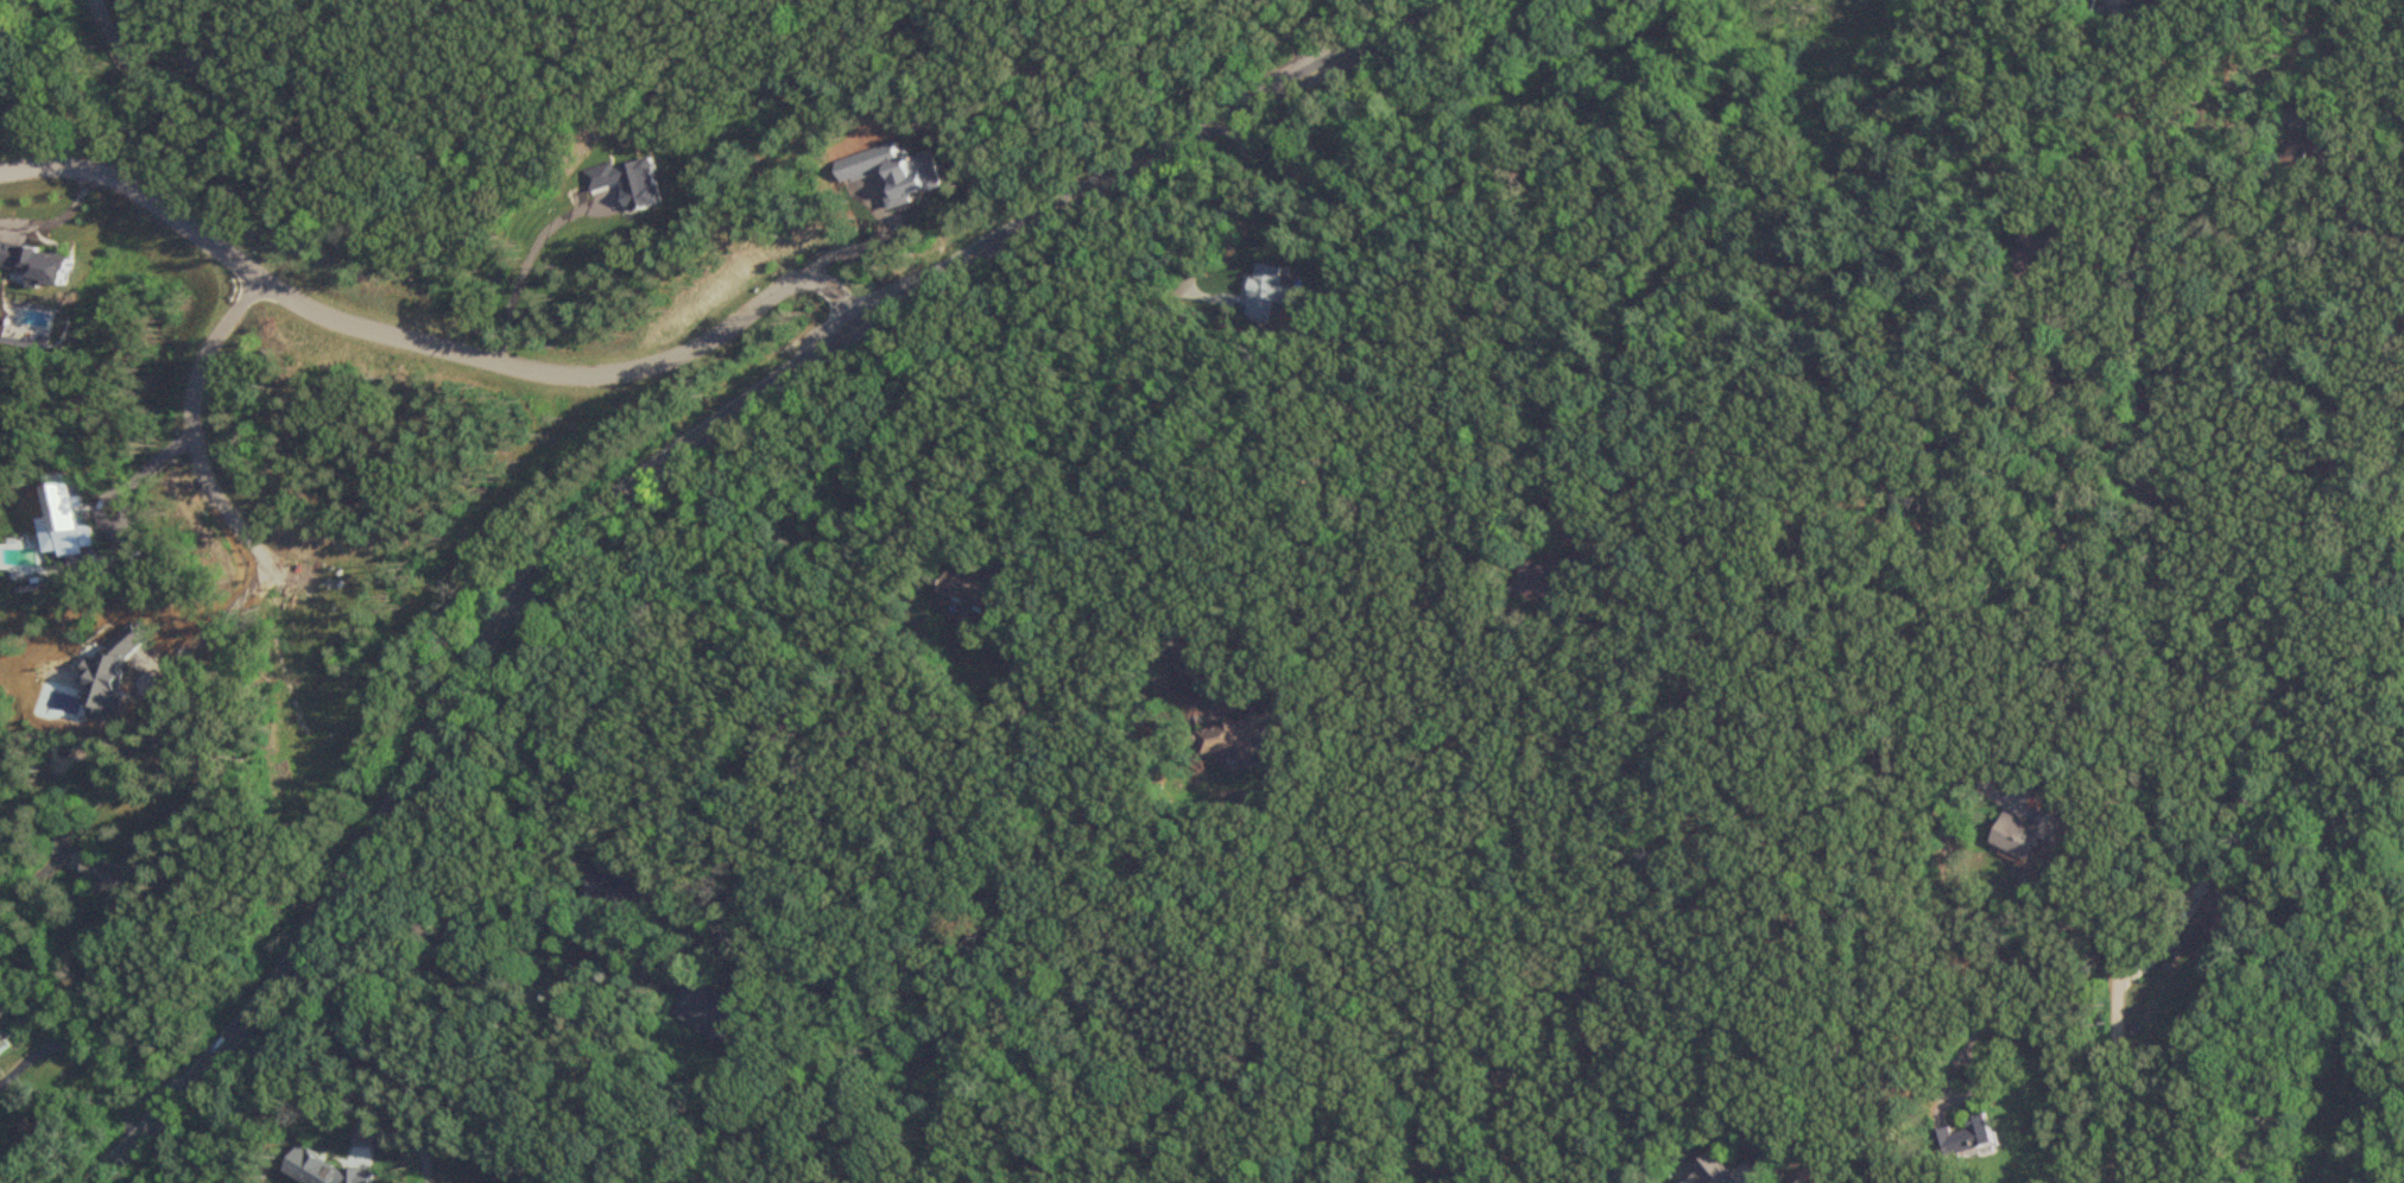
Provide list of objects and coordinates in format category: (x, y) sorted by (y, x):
building: (2127, 11)
road: (1346, 27)
road: (1304, 38)
road: (152, 95)
road: (2169, 121)
building: (2305, 144)
road: (55, 215)
building: (2037, 247)
road: (525, 257)
road: (430, 346)
road: (1099, 388)
road: (184, 431)
road: (720, 457)
road: (660, 463)
road: (110, 493)
building: (1552, 578)
building: (983, 590)
road: (772, 612)
road: (201, 632)
building: (1238, 738)
building: (2019, 835)
building: (109, 877)
building: (2209, 919)
road: (2099, 936)
road: (78, 978)
building: (5, 1033)
road: (2048, 1040)
road: (81, 1057)
road: (374, 1061)
building: (1960, 1138)
building: (1704, 1172)

